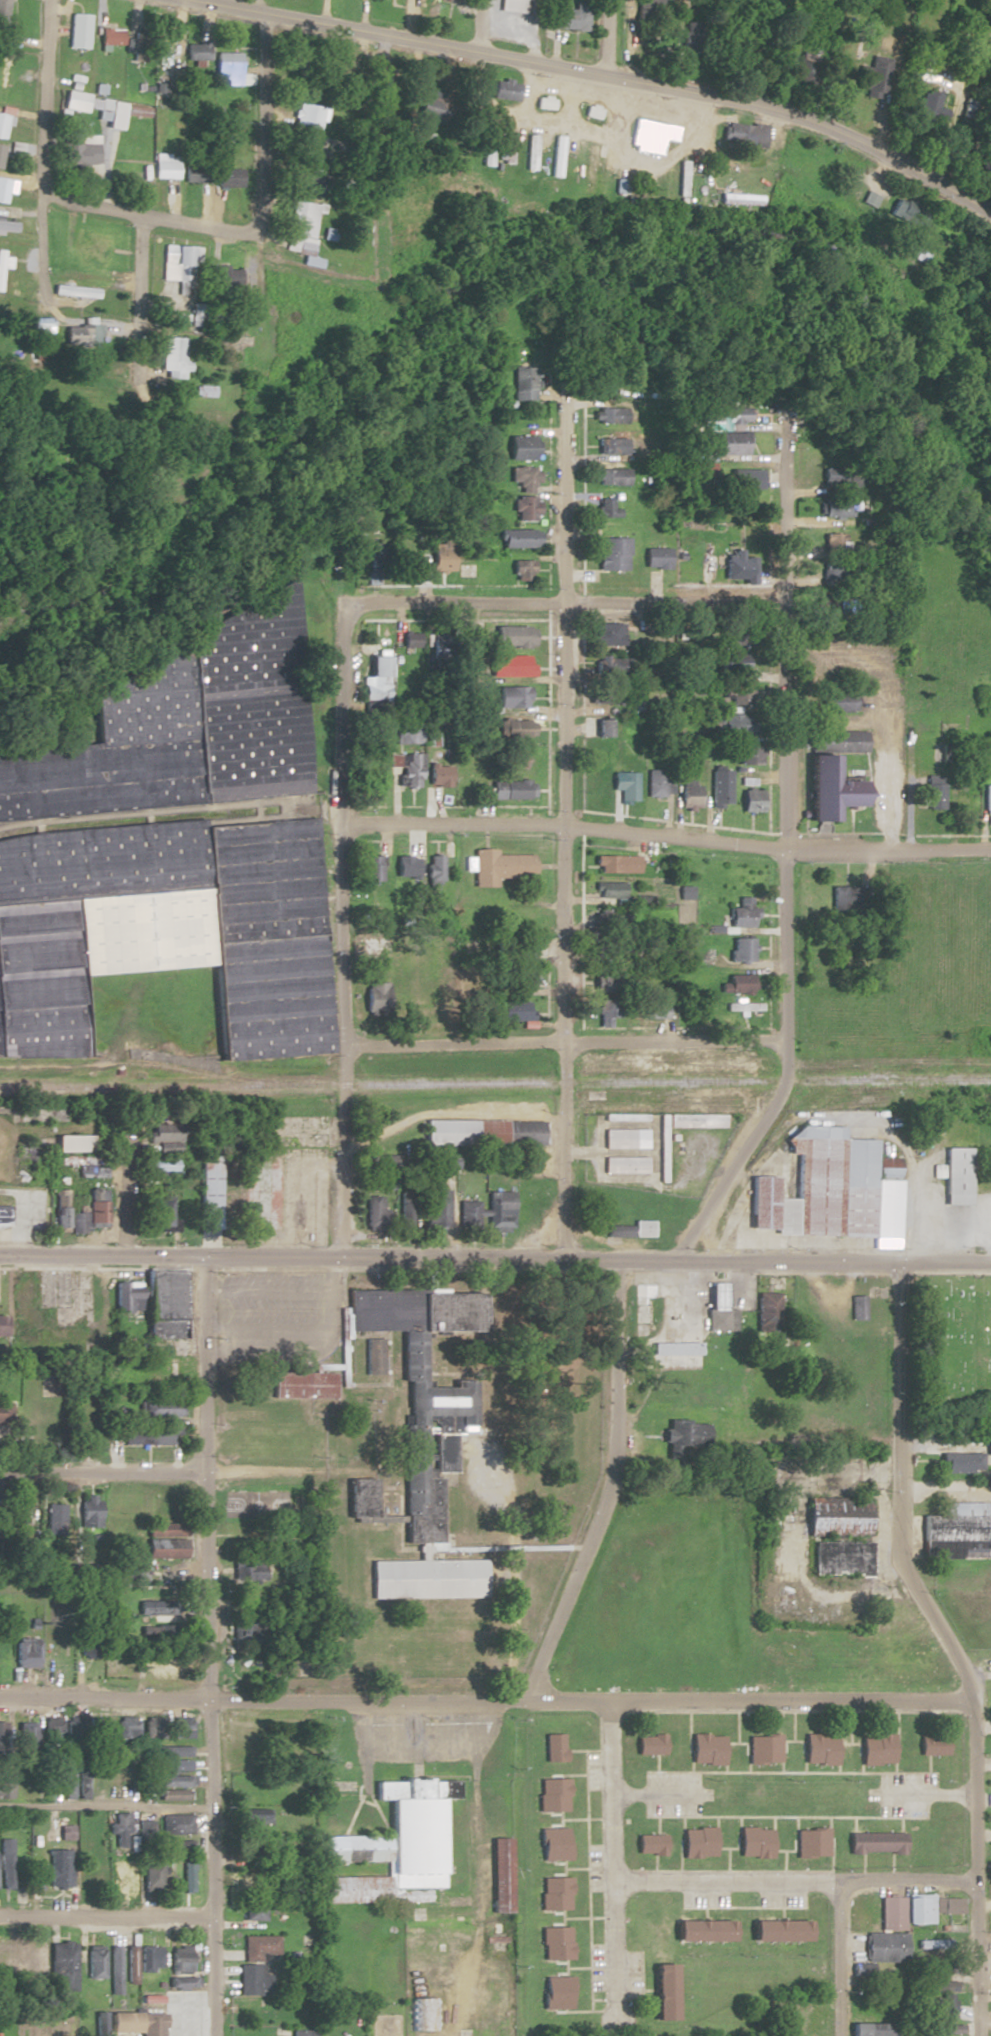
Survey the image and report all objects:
road: (250, 5)
building: (516, 5)
building: (648, 7)
building: (3, 12)
building: (570, 17)
road: (478, 26)
building: (79, 30)
building: (691, 36)
building: (111, 37)
road: (607, 38)
building: (167, 50)
building: (196, 51)
building: (227, 68)
road: (601, 74)
building: (872, 78)
building: (505, 90)
road: (39, 95)
building: (433, 105)
building: (97, 108)
building: (929, 108)
building: (968, 108)
building: (311, 117)
road: (263, 119)
building: (745, 134)
building: (1, 135)
building: (651, 136)
building: (508, 149)
building: (80, 151)
building: (531, 152)
building: (557, 155)
building: (165, 166)
building: (590, 169)
building: (192, 174)
building: (304, 182)
building: (3, 190)
road: (146, 219)
building: (8, 226)
building: (302, 226)
road: (42, 246)
building: (92, 248)
building: (2, 263)
building: (177, 263)
building: (64, 291)
road: (136, 312)
building: (83, 334)
building: (171, 355)
building: (107, 365)
building: (520, 384)
building: (605, 415)
building: (729, 416)
building: (729, 443)
building: (607, 446)
building: (518, 447)
building: (609, 477)
building: (520, 478)
building: (741, 479)
building: (522, 508)
building: (835, 508)
building: (602, 509)
building: (515, 538)
building: (610, 554)
road: (415, 555)
building: (437, 556)
building: (653, 558)
building: (736, 567)
building: (375, 570)
building: (519, 570)
road: (577, 603)
building: (605, 634)
building: (510, 636)
building: (408, 640)
building: (731, 640)
building: (728, 664)
building: (508, 666)
building: (374, 675)
building: (735, 695)
building: (509, 697)
building: (835, 702)
building: (181, 724)
building: (733, 725)
building: (515, 729)
building: (404, 737)
building: (746, 755)
building: (411, 770)
building: (827, 774)
building: (437, 776)
building: (627, 776)
building: (655, 784)
building: (717, 788)
building: (509, 790)
building: (928, 792)
building: (686, 793)
building: (958, 793)
building: (984, 798)
building: (748, 801)
road: (559, 831)
road: (664, 837)
road: (781, 855)
building: (613, 865)
building: (498, 867)
building: (405, 868)
building: (370, 869)
building: (433, 873)
building: (608, 891)
building: (741, 914)
road: (340, 920)
building: (165, 928)
building: (521, 949)
building: (739, 950)
building: (603, 979)
building: (523, 980)
building: (735, 984)
building: (651, 1008)
building: (514, 1011)
building: (603, 1014)
road: (561, 1041)
building: (653, 1054)
building: (630, 1059)
building: (711, 1059)
road: (886, 1063)
railway: (495, 1082)
building: (713, 1104)
railway: (808, 1111)
building: (622, 1117)
building: (693, 1120)
building: (163, 1132)
building: (481, 1133)
building: (623, 1139)
building: (71, 1143)
building: (659, 1147)
road: (5, 1159)
building: (21, 1162)
building: (622, 1164)
building: (158, 1169)
building: (93, 1171)
building: (950, 1175)
building: (819, 1187)
building: (209, 1197)
building: (96, 1206)
building: (60, 1209)
building: (403, 1209)
building: (435, 1210)
building: (498, 1211)
building: (374, 1212)
building: (159, 1213)
building: (4, 1215)
building: (466, 1215)
building: (76, 1222)
building: (629, 1229)
road: (495, 1258)
road: (160, 1270)
road: (140, 1284)
road: (284, 1294)
building: (124, 1295)
building: (69, 1299)
building: (165, 1303)
building: (761, 1303)
building: (639, 1306)
building: (855, 1306)
building: (715, 1309)
gas station: (715, 1309)
parking lot: (277, 1318)
building: (1, 1325)
road: (285, 1334)
park: (950, 1344)
building: (672, 1346)
road: (387, 1353)
building: (372, 1355)
building: (303, 1384)
building: (422, 1389)
building: (161, 1407)
road: (329, 1412)
building: (5, 1415)
building: (684, 1433)
building: (146, 1435)
building: (987, 1444)
building: (952, 1462)
road: (175, 1472)
building: (814, 1486)
road: (608, 1488)
building: (358, 1496)
park: (257, 1505)
building: (89, 1510)
road: (509, 1518)
building: (55, 1519)
road: (376, 1519)
building: (165, 1528)
building: (951, 1531)
building: (165, 1547)
road: (461, 1547)
road: (419, 1551)
building: (839, 1557)
building: (131, 1568)
building: (248, 1569)
building: (424, 1577)
road: (5, 1583)
building: (155, 1607)
building: (243, 1633)
road: (204, 1646)
road: (946, 1646)
building: (87, 1647)
building: (25, 1652)
building: (163, 1665)
road: (485, 1701)
road: (789, 1711)
road: (687, 1722)
road: (652, 1723)
road: (790, 1725)
building: (51, 1727)
building: (128, 1727)
building: (154, 1727)
building: (181, 1727)
road: (734, 1727)
building: (99, 1730)
building: (26, 1735)
building: (1, 1736)
road: (788, 1740)
road: (893, 1742)
road: (733, 1743)
building: (646, 1744)
building: (930, 1745)
building: (551, 1747)
building: (816, 1748)
building: (703, 1749)
building: (760, 1749)
building: (874, 1749)
building: (175, 1750)
road: (578, 1750)
road: (835, 1756)
road: (722, 1761)
road: (654, 1762)
road: (859, 1764)
road: (926, 1764)
building: (175, 1765)
road: (745, 1767)
road: (687, 1768)
parking lot: (590, 1770)
road: (749, 1771)
road: (895, 1773)
road: (569, 1774)
building: (173, 1780)
building: (5, 1782)
building: (82, 1786)
road: (656, 1793)
parking lot: (669, 1793)
parking lot: (902, 1793)
building: (171, 1794)
road: (921, 1794)
building: (551, 1795)
road: (126, 1807)
road: (734, 1816)
road: (853, 1817)
road: (576, 1818)
building: (256, 1820)
road: (558, 1820)
road: (680, 1821)
road: (737, 1822)
building: (175, 1824)
road: (852, 1824)
road: (899, 1824)
road: (655, 1825)
building: (118, 1828)
road: (827, 1828)
building: (392, 1842)
building: (695, 1842)
building: (751, 1842)
building: (808, 1842)
building: (873, 1842)
building: (551, 1843)
road: (713, 1843)
building: (647, 1844)
road: (677, 1858)
road: (725, 1859)
road: (782, 1860)
road: (890, 1861)
road: (652, 1862)
road: (861, 1862)
building: (5, 1863)
road: (609, 1863)
parking lot: (593, 1867)
building: (58, 1868)
building: (95, 1868)
road: (561, 1868)
road: (573, 1868)
road: (741, 1871)
building: (497, 1872)
building: (122, 1873)
building: (35, 1874)
building: (152, 1875)
building: (186, 1876)
road: (791, 1882)
road: (585, 1886)
building: (552, 1893)
parking lot: (779, 1899)
parking lot: (703, 1900)
road: (741, 1907)
building: (913, 1909)
building: (252, 1911)
road: (703, 1913)
road: (780, 1914)
road: (103, 1916)
road: (578, 1917)
road: (559, 1918)
building: (699, 1929)
building: (777, 1930)
building: (552, 1943)
building: (933, 1944)
building: (883, 1946)
building: (258, 1947)
building: (19, 1955)
building: (38, 1958)
building: (149, 1959)
building: (179, 1959)
road: (838, 1959)
building: (130, 1961)
building: (93, 1963)
building: (62, 1965)
road: (575, 1967)
parking lot: (595, 1967)
road: (563, 1968)
building: (113, 1970)
parking lot: (631, 1979)
building: (252, 1980)
building: (180, 1982)
road: (645, 1990)
building: (661, 1991)
building: (555, 1992)
road: (594, 2000)
building: (244, 2005)
building: (943, 2010)
road: (573, 2012)
building: (179, 2013)
building: (120, 2023)
building: (149, 2025)
building: (877, 2029)

